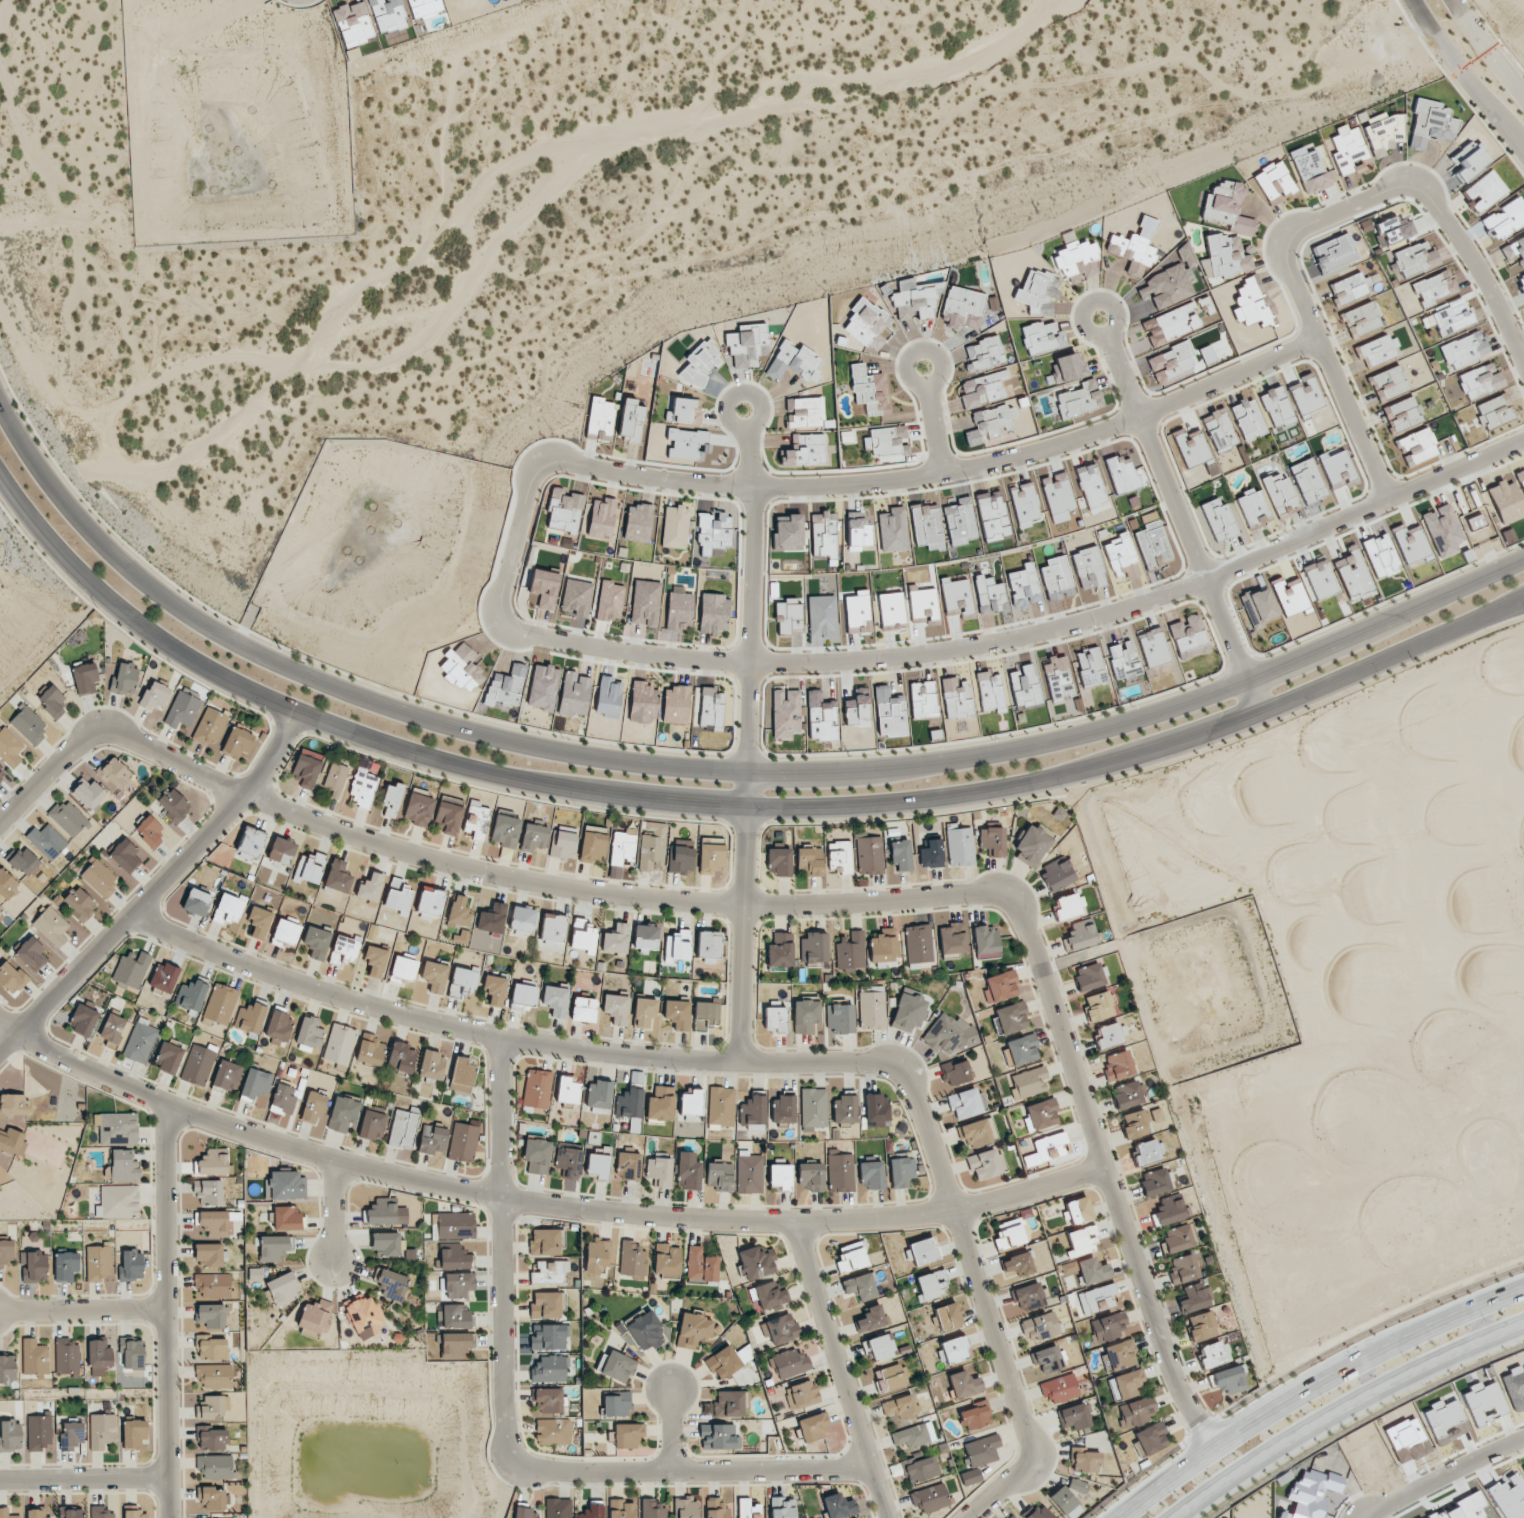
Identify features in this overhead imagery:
building: (424, 7)
building: (388, 14)
building: (353, 23)
road: (1482, 52)
road: (1460, 80)
building: (1430, 124)
building: (1382, 133)
building: (1346, 148)
building: (1467, 150)
building: (1470, 164)
building: (1310, 170)
building: (1274, 182)
building: (1485, 191)
building: (1227, 206)
road: (1338, 210)
building: (1505, 219)
building: (1394, 230)
building: (1514, 249)
building: (1131, 252)
building: (1334, 252)
building: (1226, 255)
building: (1415, 259)
building: (1077, 260)
road: (1478, 267)
building: (1171, 281)
building: (1521, 282)
building: (1433, 287)
building: (1351, 288)
building: (1038, 292)
building: (915, 299)
building: (1251, 302)
building: (962, 308)
building: (1362, 319)
building: (1452, 319)
building: (867, 324)
building: (1170, 324)
building: (1042, 338)
building: (747, 346)
building: (1464, 349)
building: (1377, 350)
building: (984, 353)
building: (1171, 361)
building: (700, 362)
building: (793, 362)
building: (1068, 367)
road: (1332, 380)
building: (1479, 381)
building: (1389, 383)
building: (983, 389)
building: (868, 390)
building: (1306, 395)
building: (1078, 399)
building: (1276, 406)
building: (1494, 411)
building: (683, 412)
building: (804, 412)
building: (1402, 413)
building: (600, 419)
building: (1247, 419)
road: (931, 421)
building: (989, 423)
building: (1219, 430)
building: (884, 439)
building: (687, 444)
building: (1416, 446)
building: (1190, 447)
building: (806, 451)
building: (1337, 469)
building: (1121, 474)
road: (937, 476)
building: (1521, 479)
building: (1308, 481)
building: (1279, 493)
building: (1057, 496)
building: (1506, 502)
building: (1024, 504)
building: (1253, 508)
building: (563, 510)
road: (1179, 513)
building: (992, 515)
building: (601, 518)
building: (1218, 519)
building: (959, 520)
building: (638, 523)
building: (926, 526)
building: (674, 527)
building: (893, 530)
building: (1442, 530)
building: (713, 532)
building: (788, 532)
building: (823, 533)
building: (857, 533)
road: (517, 543)
building: (1152, 544)
building: (1410, 544)
building: (1121, 557)
building: (1088, 568)
building: (1353, 575)
building: (1057, 578)
building: (1320, 579)
building: (1023, 585)
building: (543, 587)
building: (989, 595)
building: (1289, 595)
building: (956, 596)
building: (576, 597)
building: (610, 601)
building: (645, 603)
building: (922, 604)
building: (680, 607)
building: (1258, 607)
road: (751, 608)
building: (891, 610)
building: (858, 612)
building: (713, 613)
building: (787, 615)
building: (822, 615)
road: (1027, 636)
building: (1189, 637)
building: (1153, 647)
building: (1123, 660)
building: (1090, 667)
building: (461, 668)
building: (1057, 677)
building: (84, 678)
building: (124, 679)
building: (1023, 685)
building: (505, 686)
building: (543, 687)
building: (990, 691)
building: (574, 694)
building: (154, 697)
building: (608, 697)
building: (956, 698)
building: (922, 699)
building: (53, 701)
building: (642, 703)
building: (675, 704)
building: (711, 708)
building: (857, 708)
building: (182, 709)
building: (889, 712)
building: (785, 713)
building: (821, 716)
building: (29, 725)
building: (209, 727)
road: (109, 734)
building: (237, 742)
building: (9, 748)
building: (306, 768)
road: (718, 769)
building: (2, 773)
building: (114, 773)
building: (335, 779)
building: (362, 787)
building: (89, 794)
building: (391, 799)
road: (729, 804)
building: (174, 805)
building: (419, 807)
building: (448, 814)
building: (68, 818)
building: (477, 820)
building: (506, 829)
building: (150, 830)
building: (533, 837)
building: (993, 840)
building: (47, 841)
building: (563, 844)
building: (1032, 845)
building: (622, 846)
building: (592, 847)
building: (652, 847)
building: (960, 847)
building: (282, 850)
building: (931, 853)
building: (900, 854)
building: (869, 855)
building: (125, 856)
building: (839, 857)
building: (711, 858)
building: (680, 859)
building: (24, 860)
building: (779, 861)
building: (809, 861)
building: (309, 868)
building: (1058, 874)
building: (338, 876)
building: (99, 878)
building: (6, 885)
road: (154, 885)
building: (370, 887)
road: (620, 892)
building: (398, 896)
building: (196, 902)
building: (79, 903)
building: (430, 903)
building: (1069, 906)
building: (229, 908)
building: (458, 911)
building: (0, 913)
building: (492, 918)
building: (522, 918)
building: (259, 920)
building: (51, 926)
building: (552, 928)
building: (371, 932)
road: (742, 932)
building: (285, 933)
building: (1080, 935)
building: (583, 936)
building: (645, 938)
building: (985, 938)
building: (616, 939)
building: (316, 940)
building: (952, 940)
building: (918, 945)
building: (677, 946)
building: (708, 946)
building: (884, 946)
building: (814, 948)
building: (344, 949)
building: (780, 950)
building: (850, 950)
building: (31, 954)
building: (375, 960)
building: (131, 969)
building: (402, 969)
building: (435, 975)
building: (1090, 976)
building: (10, 977)
building: (164, 977)
building: (463, 981)
building: (1000, 986)
building: (494, 989)
building: (192, 993)
building: (523, 995)
building: (555, 998)
building: (219, 1005)
building: (1100, 1005)
building: (871, 1007)
building: (583, 1009)
building: (616, 1009)
building: (909, 1011)
building: (677, 1014)
building: (706, 1015)
building: (805, 1016)
building: (250, 1017)
building: (840, 1018)
building: (83, 1019)
building: (775, 1019)
building: (279, 1026)
building: (112, 1029)
building: (947, 1033)
building: (308, 1034)
building: (1110, 1035)
road: (506, 1037)
building: (141, 1042)
building: (340, 1044)
building: (1020, 1049)
building: (371, 1050)
building: (168, 1057)
building: (401, 1057)
building: (197, 1065)
building: (432, 1065)
building: (1118, 1065)
building: (227, 1075)
building: (461, 1076)
building: (1028, 1083)
building: (255, 1084)
building: (536, 1090)
building: (568, 1090)
building: (598, 1094)
building: (1127, 1095)
building: (284, 1098)
building: (629, 1102)
building: (966, 1103)
building: (660, 1104)
building: (12, 1105)
building: (691, 1105)
building: (720, 1106)
building: (813, 1107)
building: (313, 1108)
building: (782, 1109)
building: (844, 1109)
building: (877, 1109)
building: (752, 1110)
building: (343, 1113)
building: (1042, 1114)
building: (1134, 1124)
building: (372, 1125)
building: (116, 1128)
building: (402, 1129)
building: (977, 1133)
building: (432, 1139)
building: (463, 1141)
building: (13, 1142)
building: (1048, 1147)
building: (1147, 1152)
building: (537, 1155)
building: (212, 1162)
building: (568, 1162)
building: (598, 1163)
building: (986, 1164)
building: (628, 1165)
building: (124, 1166)
building: (659, 1171)
building: (688, 1171)
building: (840, 1172)
building: (901, 1172)
road: (1102, 1172)
building: (749, 1173)
building: (780, 1174)
building: (871, 1175)
building: (719, 1176)
building: (810, 1176)
building: (1155, 1183)
building: (285, 1186)
building: (208, 1192)
building: (118, 1201)
road: (536, 1202)
building: (1077, 1210)
road: (334, 1212)
building: (384, 1212)
building: (1169, 1212)
building: (286, 1218)
building: (455, 1225)
building: (1008, 1234)
building: (1178, 1238)
building: (1081, 1240)
building: (544, 1242)
building: (273, 1247)
road: (503, 1251)
building: (5, 1252)
building: (921, 1252)
building: (209, 1254)
building: (596, 1256)
building: (850, 1257)
building: (455, 1258)
building: (631, 1259)
building: (666, 1259)
building: (755, 1262)
building: (98, 1263)
building: (1017, 1264)
building: (65, 1265)
building: (131, 1265)
building: (700, 1265)
building: (33, 1266)
building: (1183, 1269)
building: (1091, 1270)
building: (549, 1272)
building: (392, 1284)
building: (212, 1285)
building: (458, 1285)
building: (930, 1285)
building: (859, 1286)
building: (283, 1288)
building: (769, 1295)
building: (1029, 1296)
building: (1195, 1297)
road: (985, 1299)
building: (1096, 1299)
building: (545, 1305)
road: (82, 1311)
road: (165, 1313)
building: (211, 1316)
building: (315, 1316)
building: (364, 1316)
building: (454, 1316)
building: (946, 1316)
building: (869, 1319)
building: (1041, 1326)
building: (1108, 1326)
building: (1201, 1326)
building: (693, 1329)
building: (778, 1329)
building: (644, 1330)
building: (550, 1337)
building: (456, 1344)
building: (211, 1348)
building: (878, 1348)
building: (952, 1349)
building: (132, 1354)
building: (1213, 1354)
building: (99, 1355)
building: (1118, 1355)
building: (67, 1356)
building: (34, 1357)
building: (1048, 1359)
building: (727, 1361)
building: (789, 1363)
building: (618, 1366)
building: (7, 1369)
building: (549, 1369)
road: (841, 1370)
building: (213, 1375)
building: (891, 1377)
building: (1230, 1380)
road: (1306, 1380)
building: (963, 1383)
building: (1127, 1384)
building: (1059, 1388)
building: (801, 1394)
building: (548, 1400)
building: (616, 1403)
building: (730, 1403)
building: (1484, 1403)
building: (212, 1407)
building: (899, 1407)
road: (1344, 1410)
building: (1135, 1412)
building: (974, 1415)
building: (1075, 1416)
road: (671, 1427)
building: (813, 1427)
building: (102, 1430)
building: (552, 1431)
building: (38, 1432)
building: (134, 1433)
building: (10, 1435)
building: (71, 1435)
building: (628, 1435)
building: (914, 1435)
building: (718, 1437)
building: (212, 1438)
building: (1150, 1438)
building: (981, 1450)
building: (1086, 1461)
building: (215, 1466)
road: (693, 1468)
building: (922, 1469)
building: (970, 1477)
road: (1446, 1478)
road: (83, 1481)
building: (1078, 1485)
building: (1311, 1493)
building: (212, 1497)
building: (930, 1498)
building: (1062, 1500)
building: (837, 1506)
building: (685, 1507)
building: (782, 1507)
building: (1463, 1507)
building: (558, 1508)
building: (621, 1509)
building: (652, 1509)
building: (716, 1509)
building: (747, 1509)
building: (592, 1511)
building: (36, 1512)
building: (100, 1512)
building: (524, 1512)
building: (1039, 1512)
building: (7, 1513)
building: (72, 1513)
building: (136, 1514)
building: (1282, 1515)
building: (1012, 1517)

